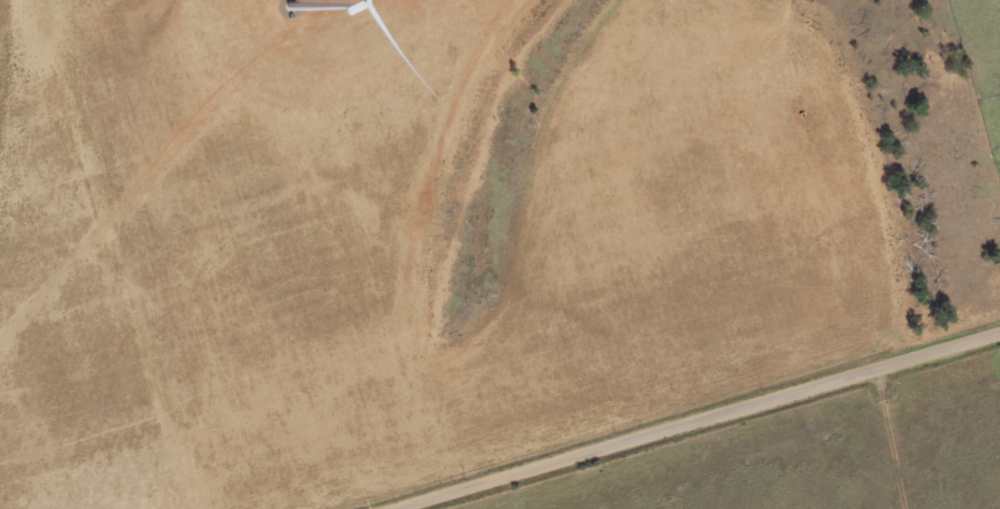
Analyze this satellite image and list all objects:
wind turbine: (288, 3)
road: (689, 419)
road: (927, 431)

